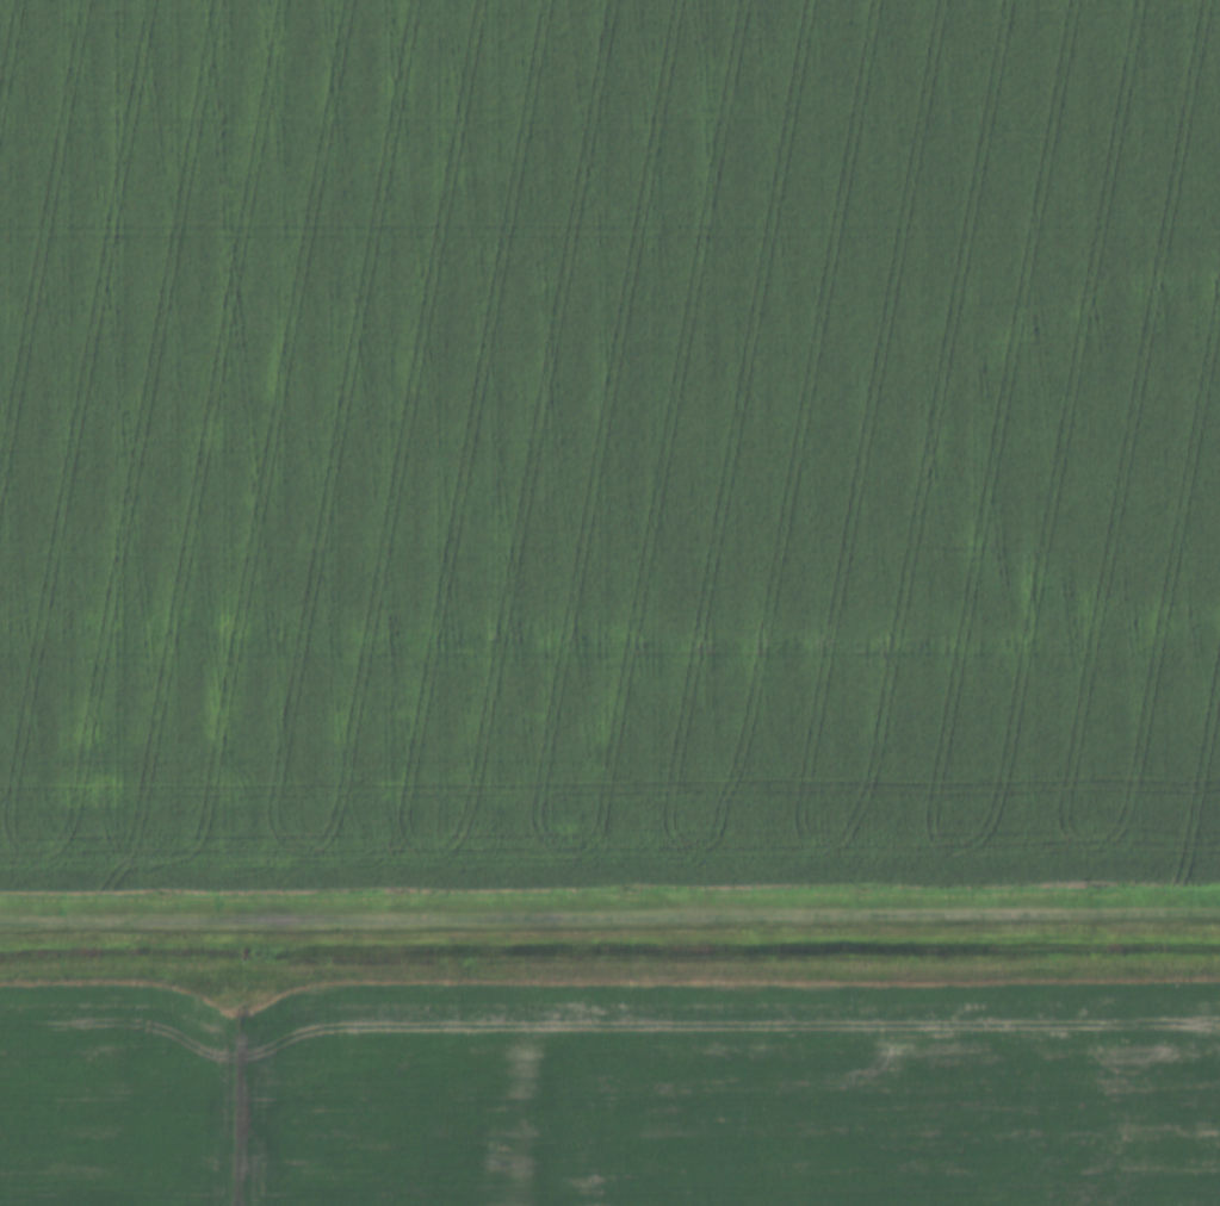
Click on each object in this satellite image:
crop: (608, 441)
road: (609, 915)
crop: (615, 1090)

